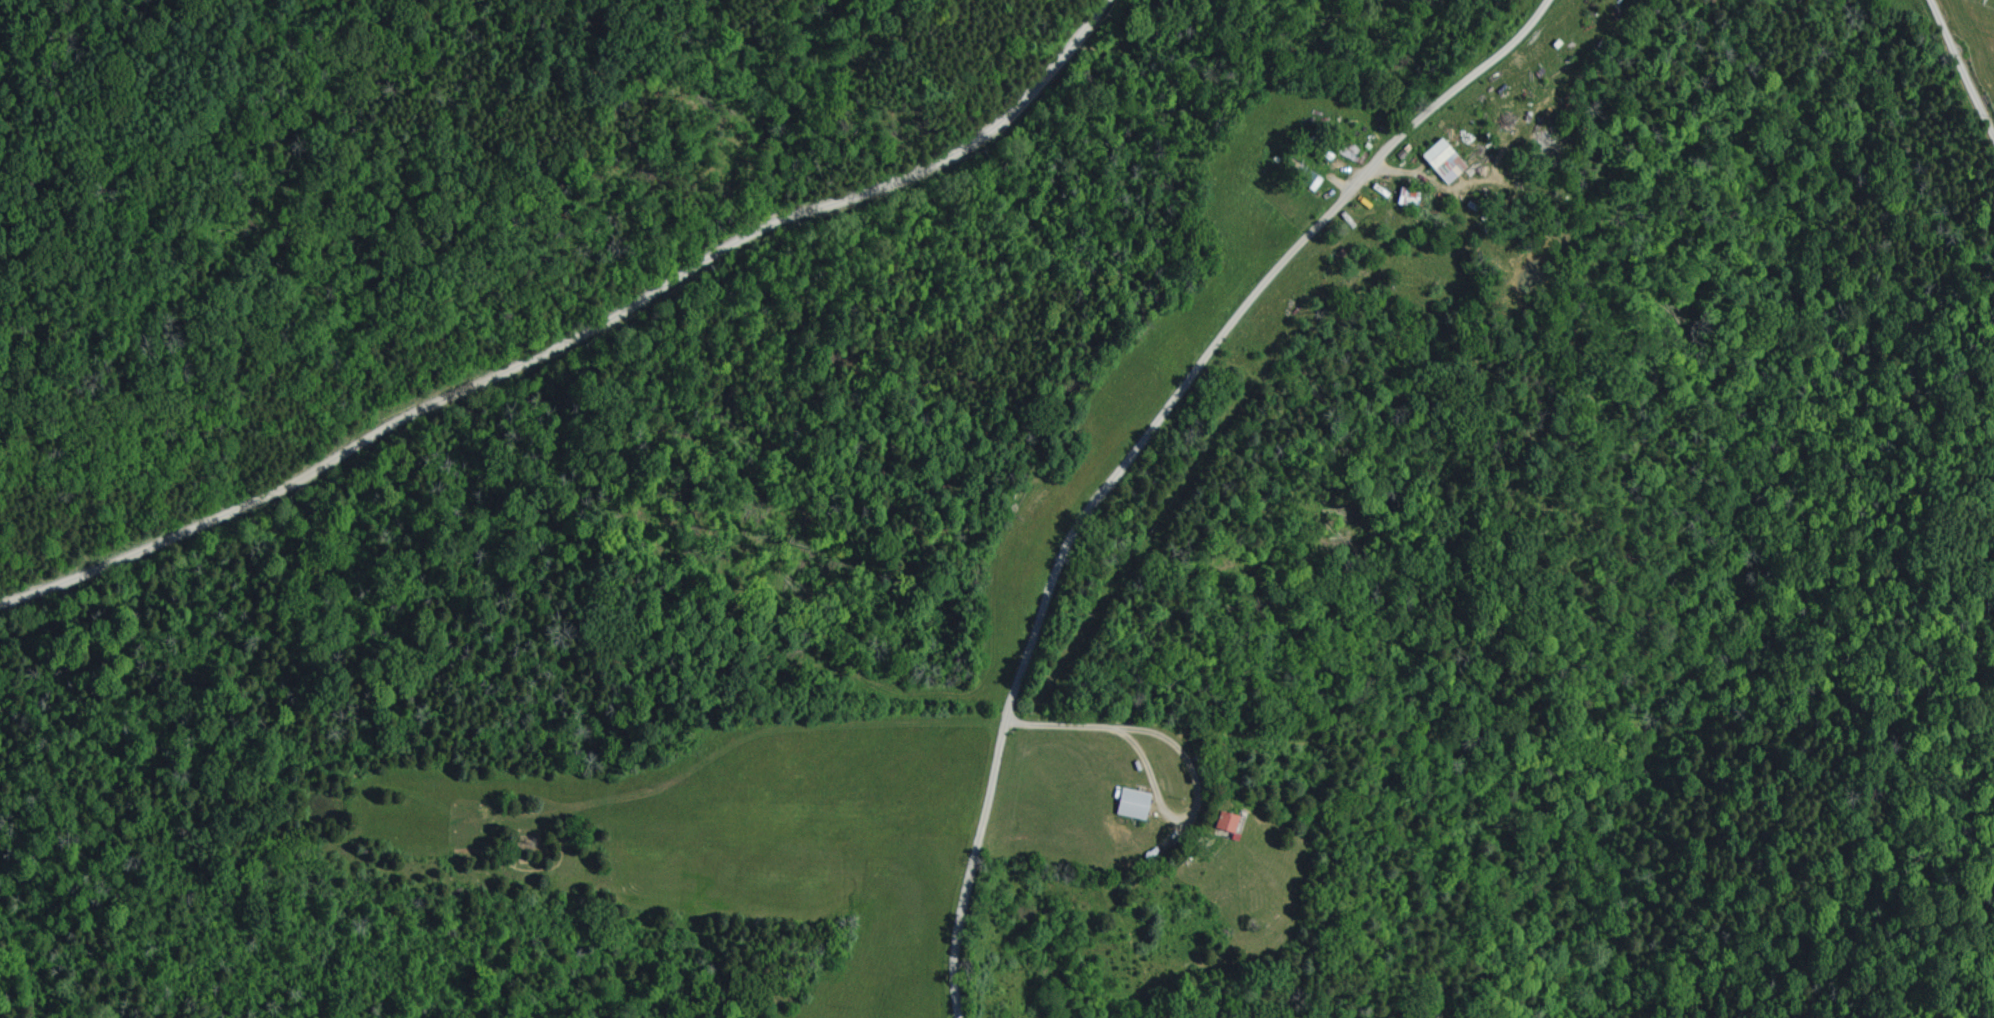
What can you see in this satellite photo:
road: (1961, 68)
building: (1446, 161)
building: (1407, 197)
road: (566, 343)
road: (1142, 455)
road: (1103, 710)
building: (1135, 804)
building: (1227, 821)

